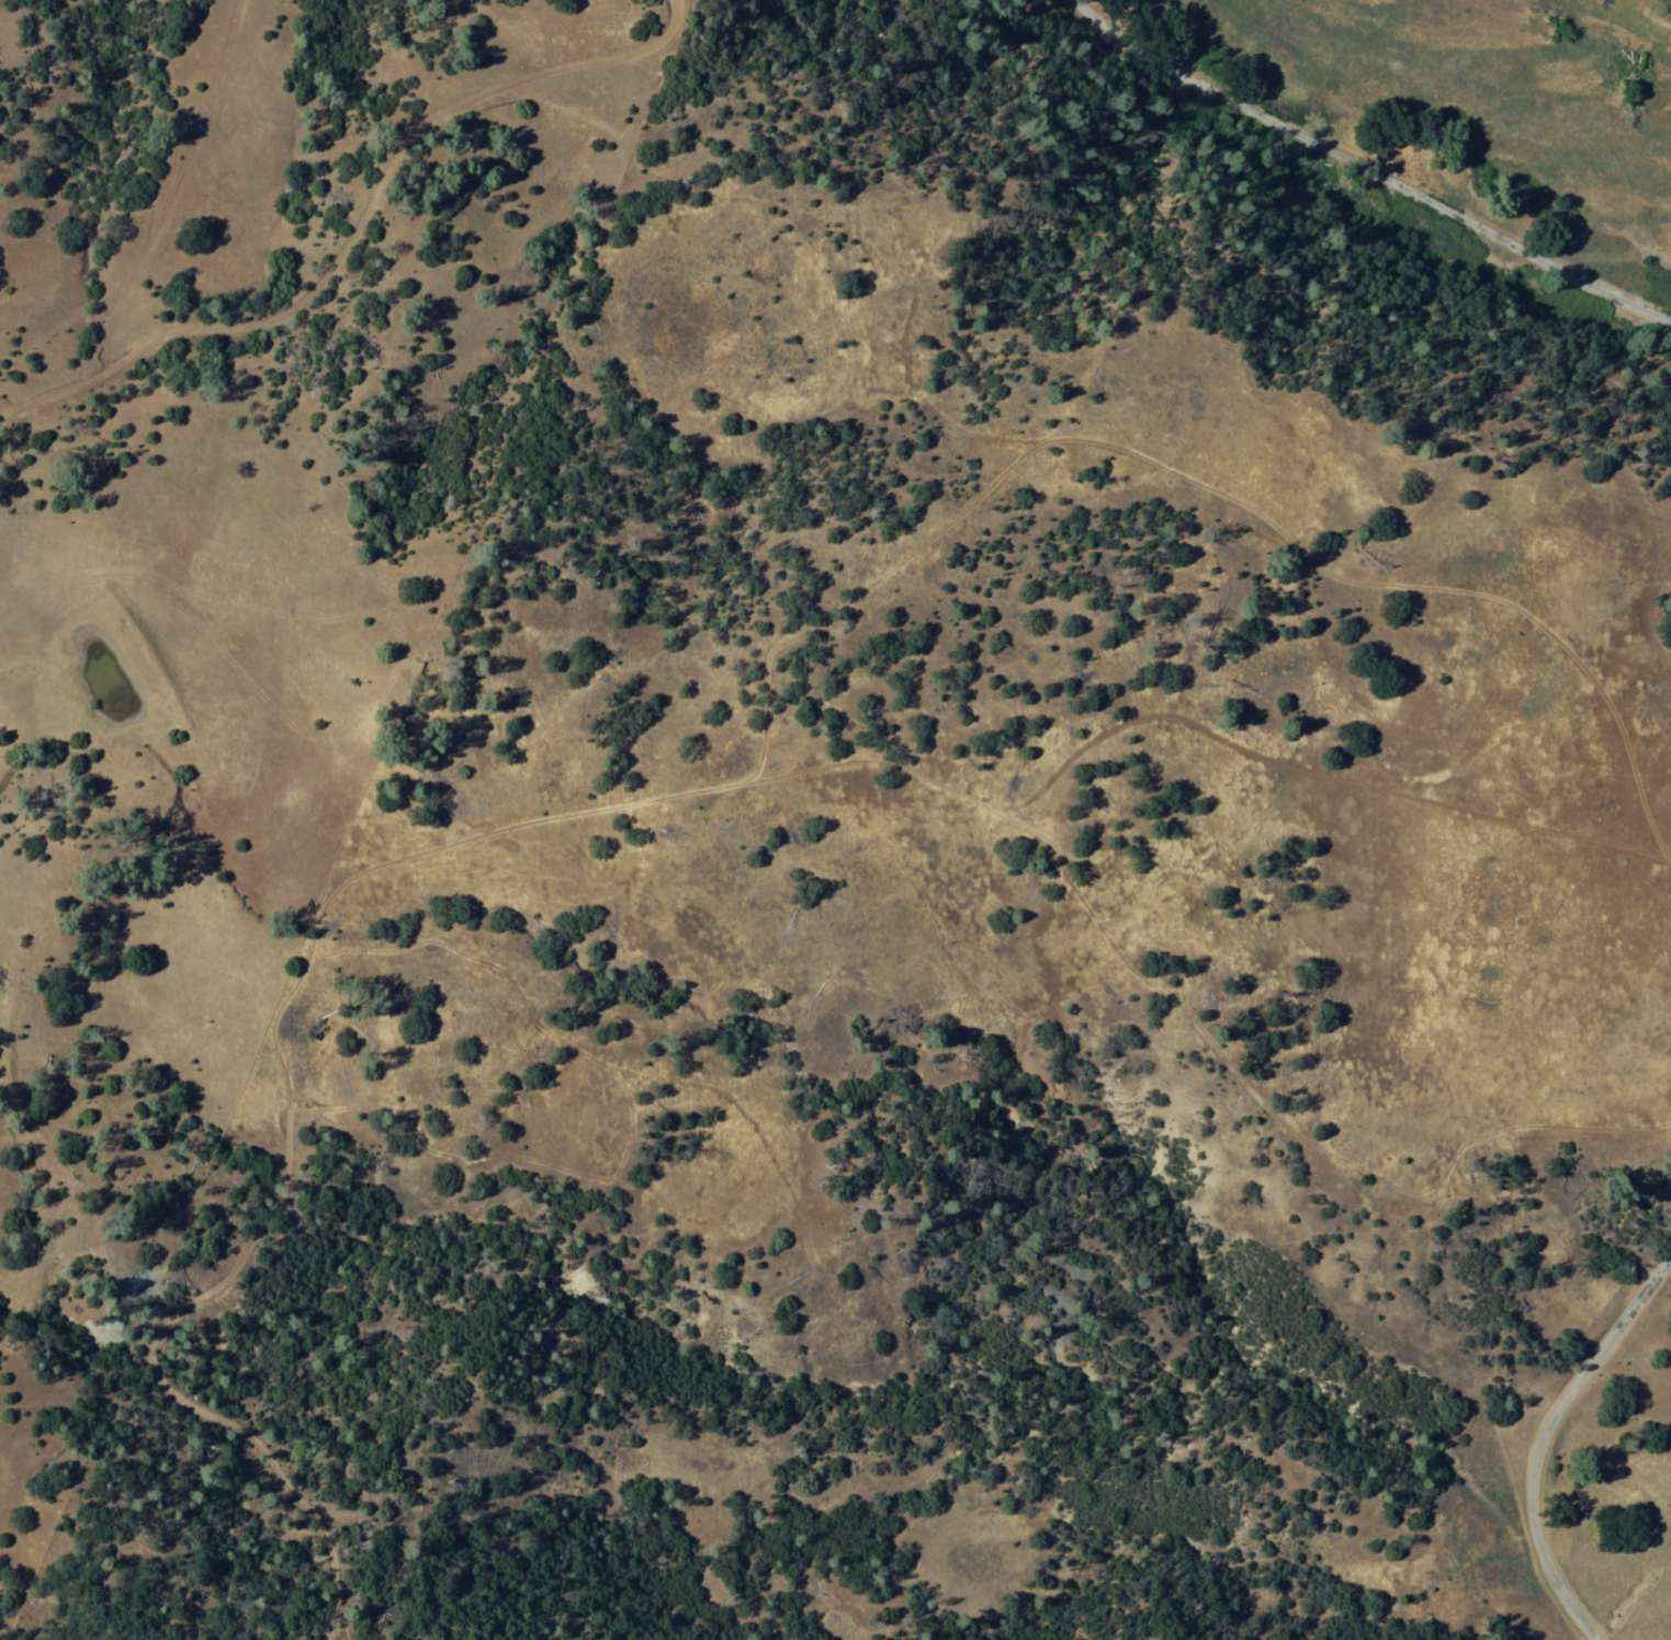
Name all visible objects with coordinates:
road: (1363, 172)
road: (353, 235)
road: (1540, 1430)

